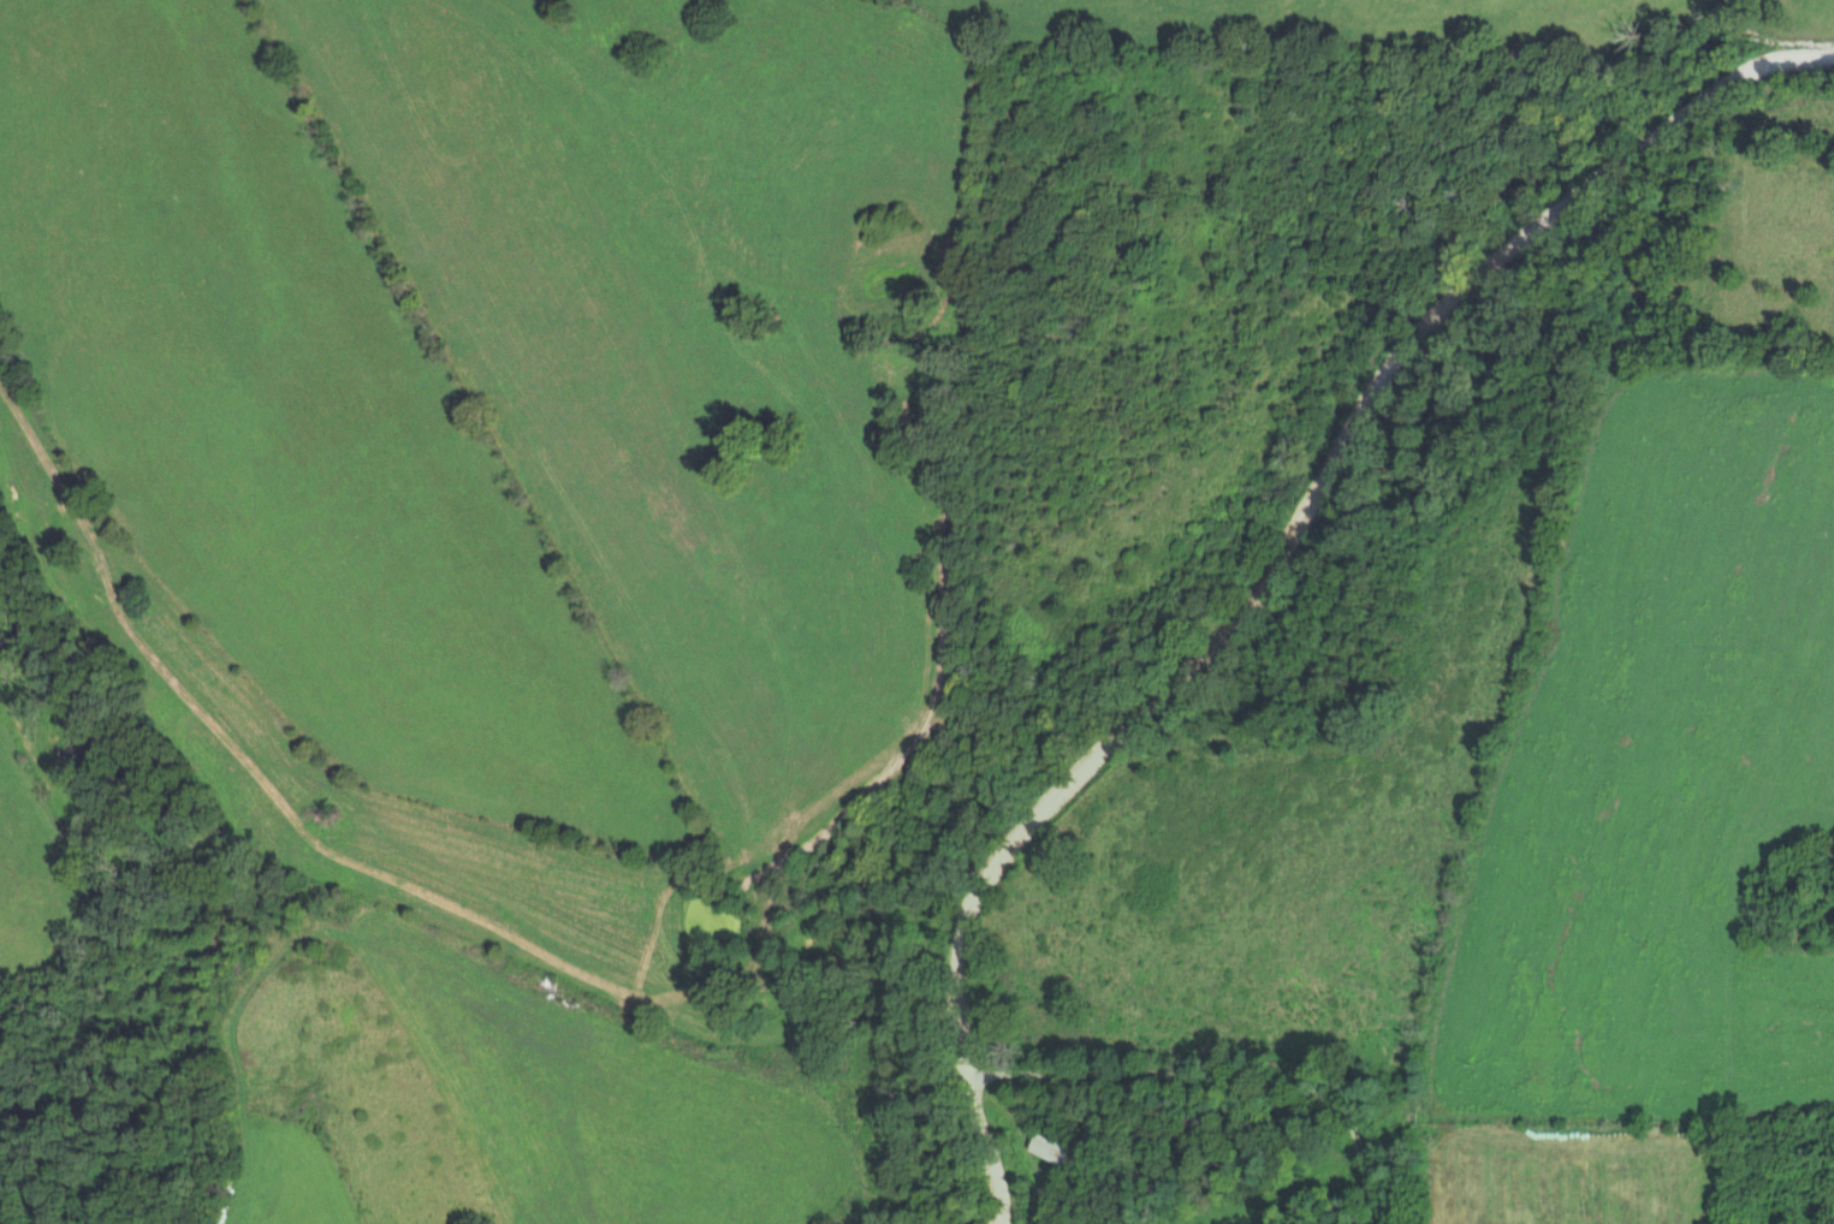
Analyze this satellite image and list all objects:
road: (1278, 569)
road: (1218, 1082)

